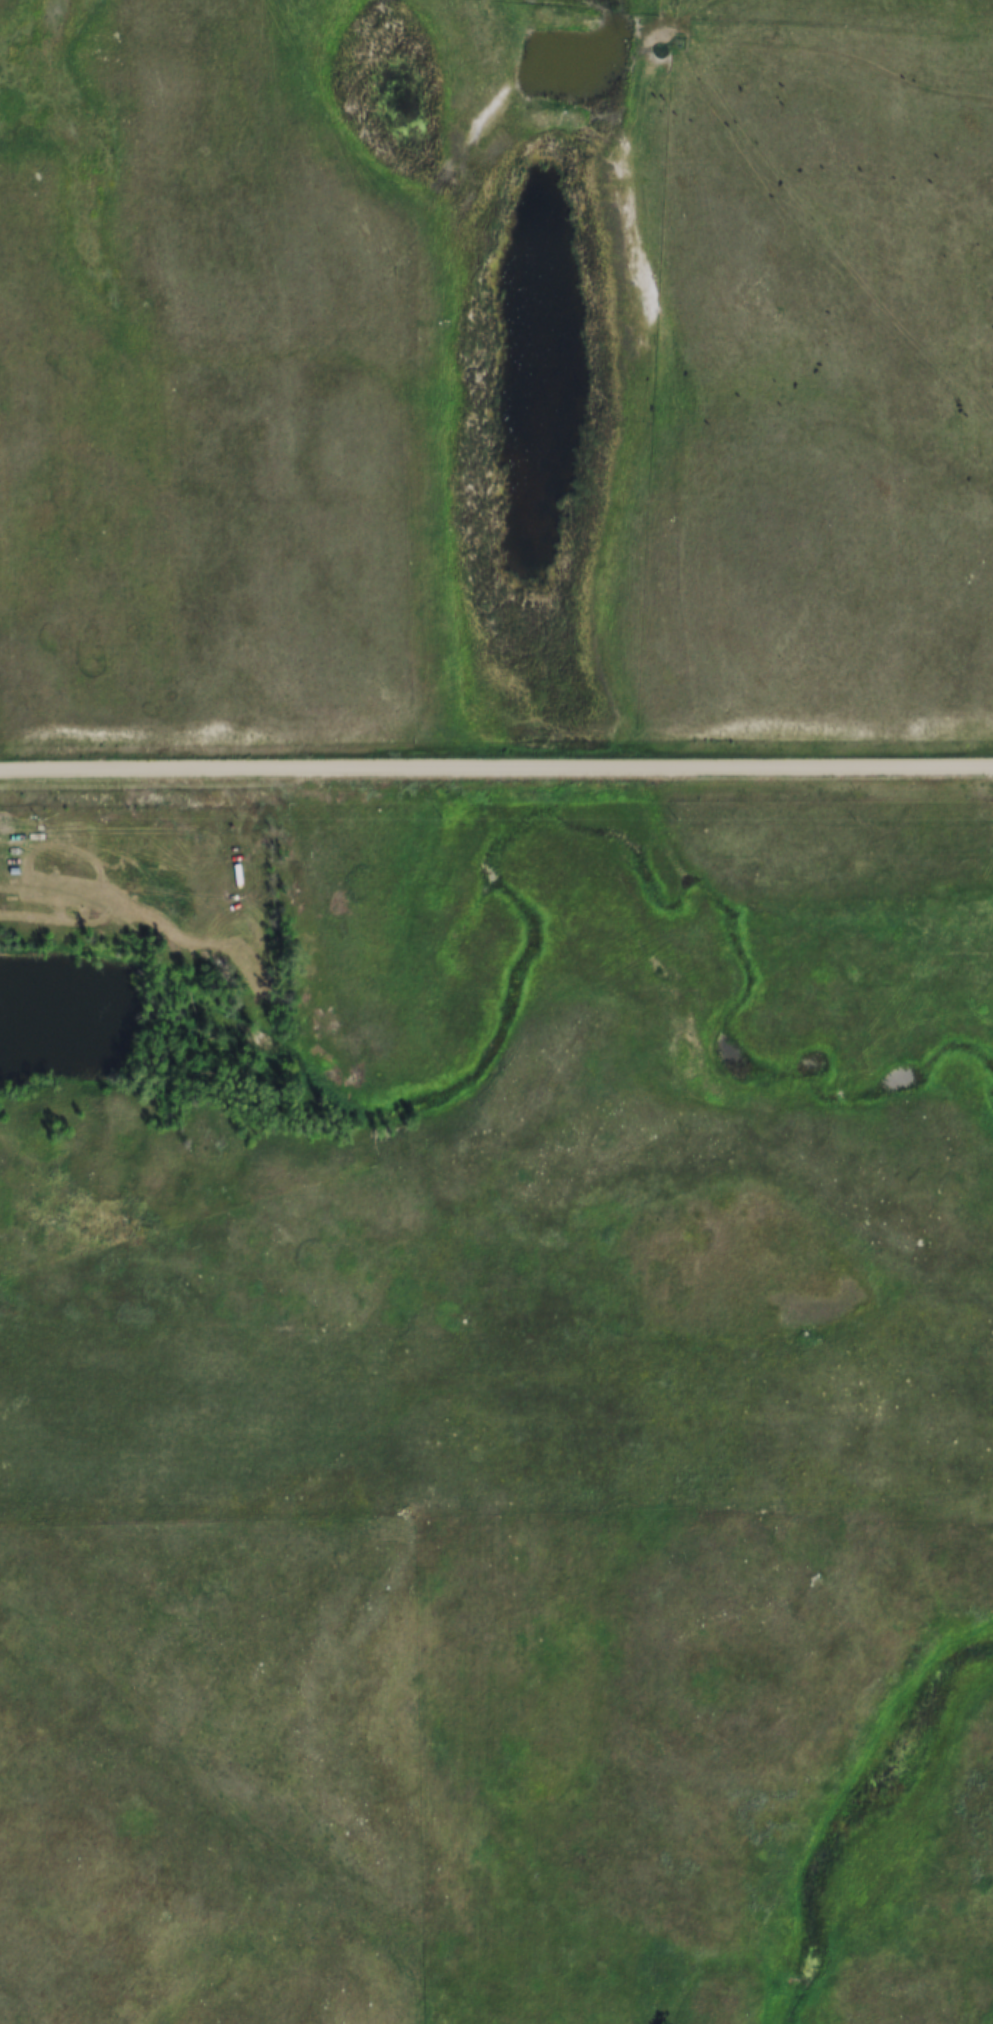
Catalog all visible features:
road: (496, 769)
road: (81, 866)

